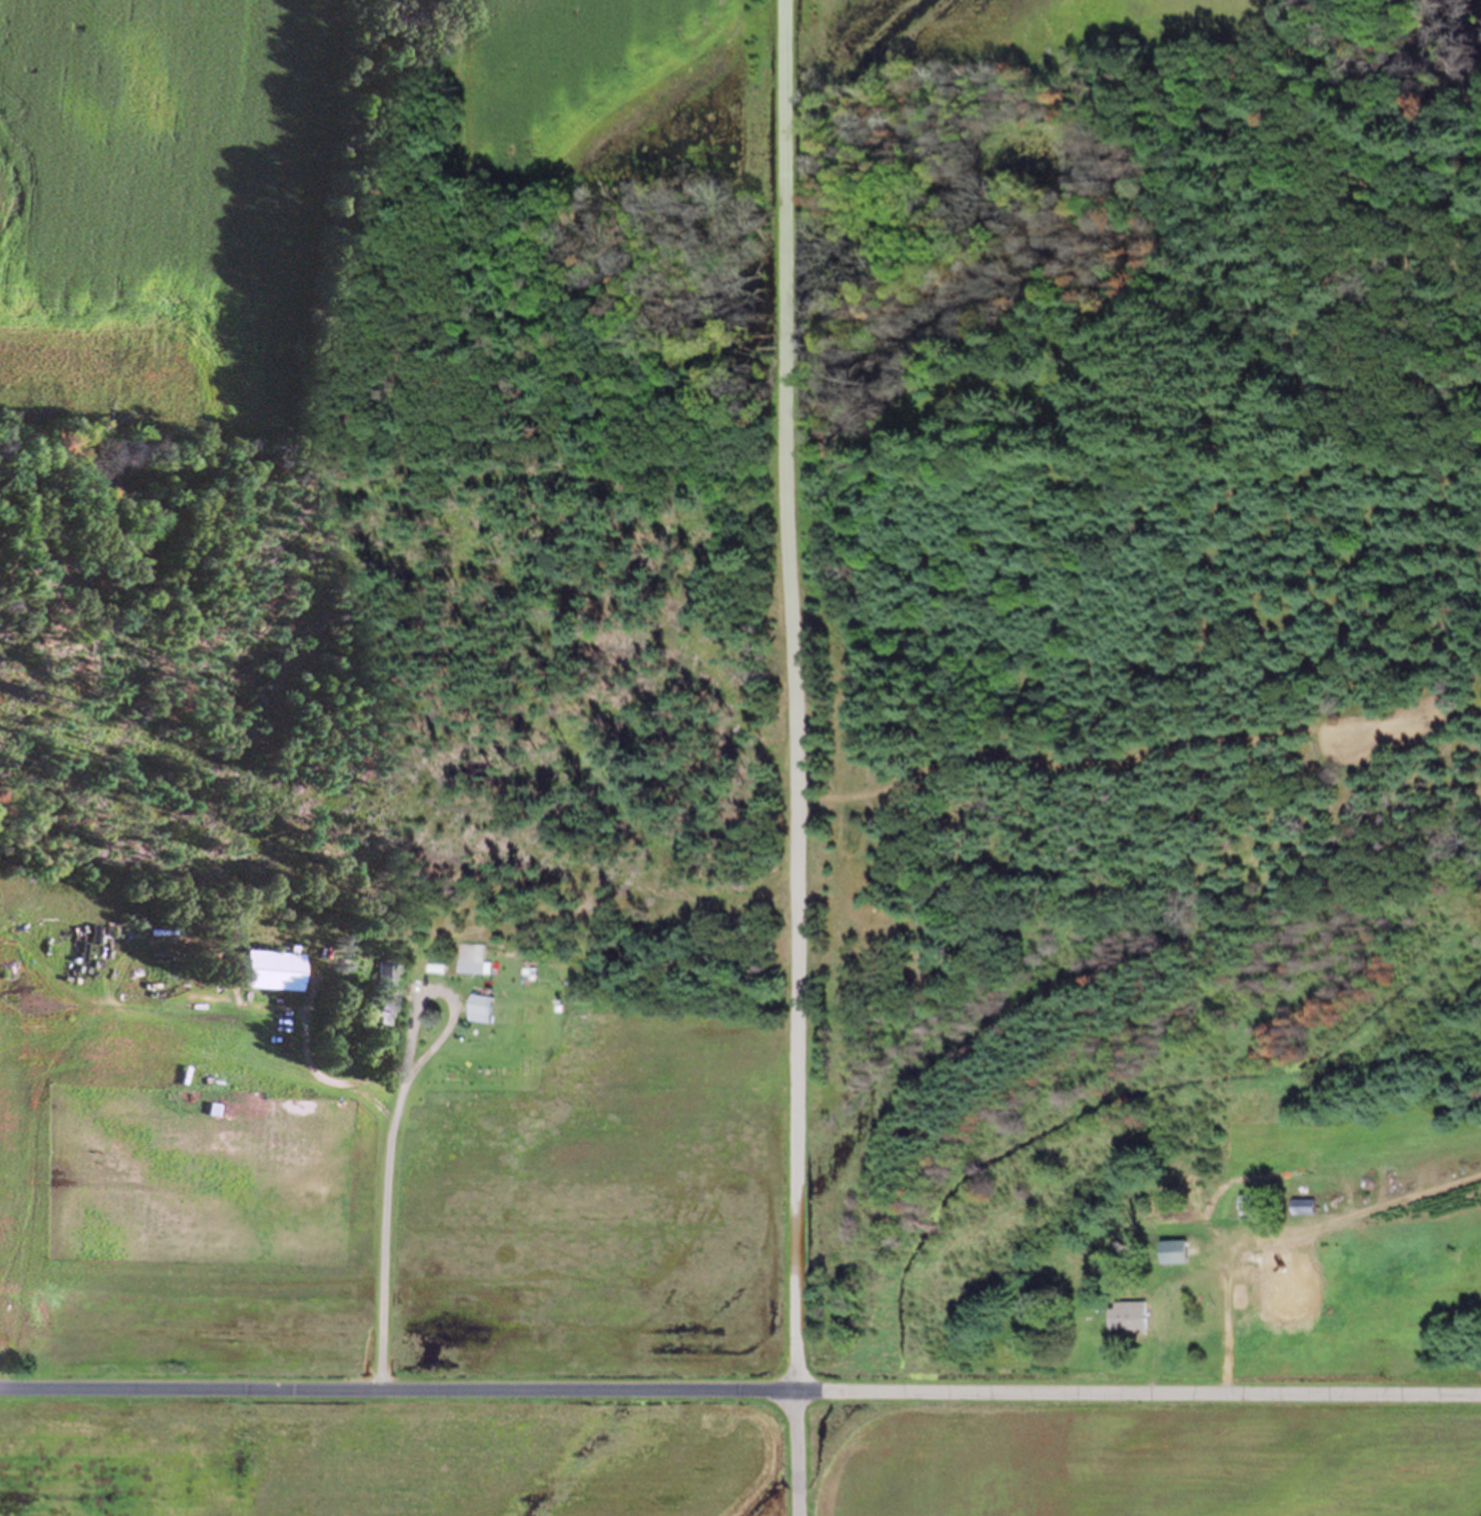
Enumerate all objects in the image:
road: (791, 758)
building: (471, 961)
building: (266, 973)
building: (379, 992)
building: (479, 1011)
road: (390, 1122)
building: (1248, 1206)
building: (1305, 1207)
building: (1174, 1253)
building: (1281, 1285)
building: (1129, 1317)
road: (740, 1395)

